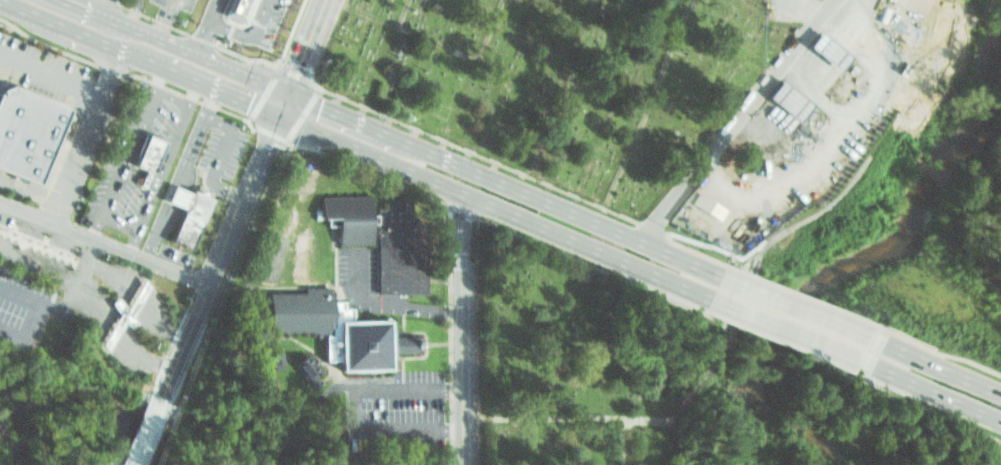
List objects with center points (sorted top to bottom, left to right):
road: (18, 7)
road: (101, 7)
road: (90, 10)
building: (266, 13)
road: (166, 19)
building: (923, 30)
road: (80, 33)
road: (241, 33)
road: (201, 36)
road: (302, 45)
building: (830, 52)
road: (199, 56)
traffic signals: (295, 64)
road: (51, 77)
road: (469, 78)
park: (556, 83)
road: (202, 84)
building: (791, 101)
traffic signals: (250, 104)
road: (282, 104)
traffic signals: (321, 107)
road: (645, 111)
road: (340, 115)
building: (23, 129)
road: (88, 137)
road: (872, 140)
road: (287, 142)
traffic signals: (269, 144)
building: (144, 150)
road: (260, 163)
road: (30, 192)
building: (183, 208)
road: (502, 210)
road: (566, 210)
building: (350, 218)
road: (104, 244)
road: (225, 248)
river: (864, 256)
road: (36, 266)
park: (739, 266)
road: (69, 286)
road: (390, 306)
road: (800, 310)
road: (30, 314)
road: (462, 329)
building: (340, 332)
road: (791, 333)
road: (447, 334)
road: (715, 340)
road: (182, 347)
park: (565, 359)
road: (933, 366)
building: (309, 370)
road: (929, 391)
river: (84, 394)
road: (354, 409)
road: (470, 416)
road: (543, 416)
river: (803, 426)
park: (614, 436)
road: (145, 437)
road: (613, 440)

